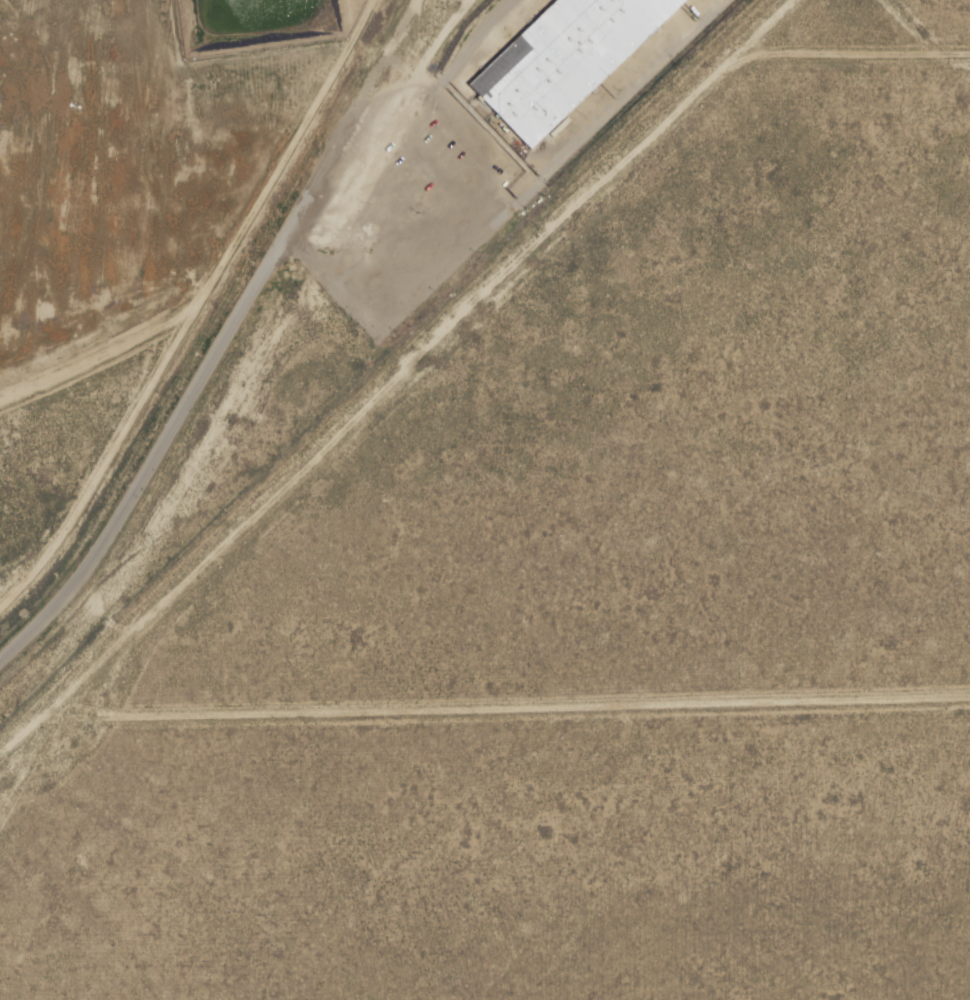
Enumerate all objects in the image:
building: (560, 55)
road: (207, 370)

